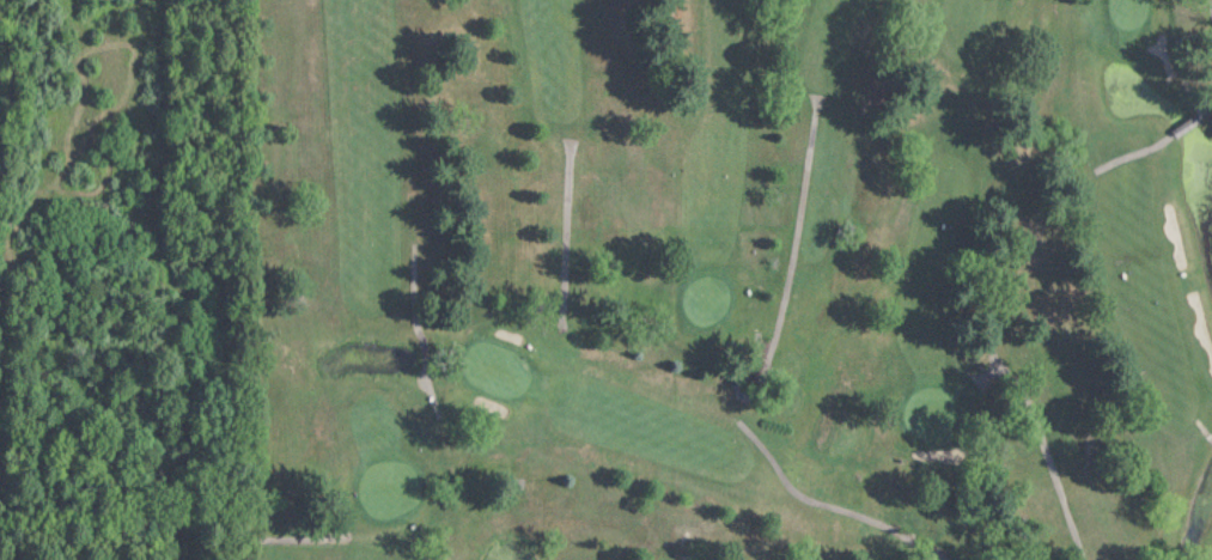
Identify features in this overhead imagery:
park: (727, 280)

